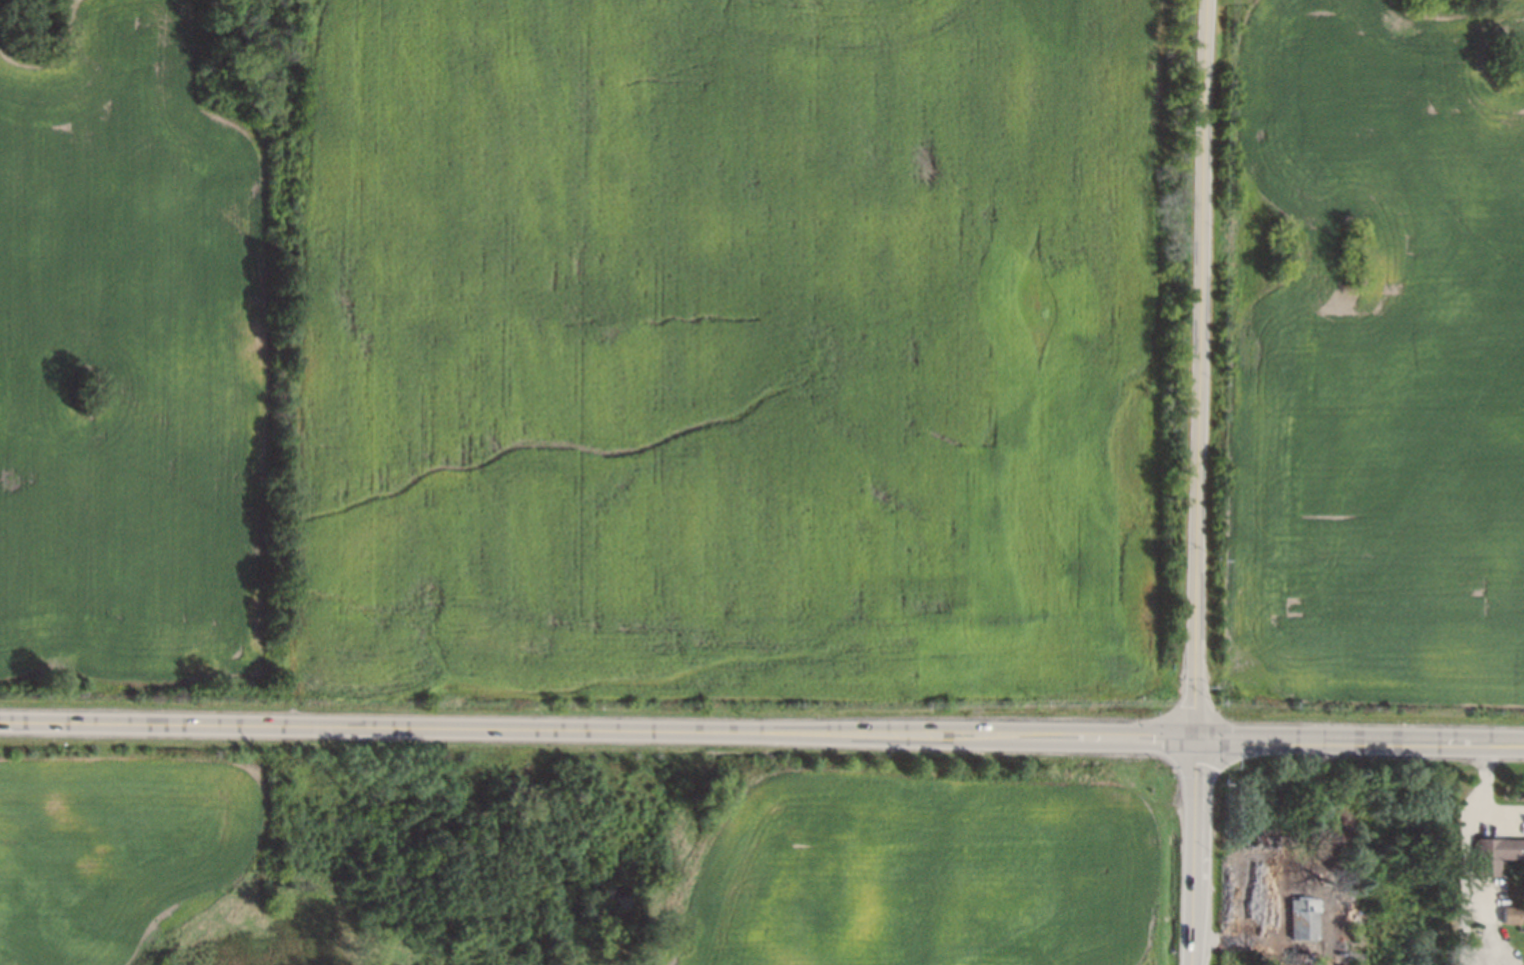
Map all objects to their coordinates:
crop: (1380, 341)
crop: (737, 347)
crop: (124, 366)
road: (1201, 482)
road: (597, 732)
traffic signals: (1196, 740)
road: (1360, 742)
crop: (119, 854)
building: (1497, 854)
crop: (927, 875)
building: (1511, 916)
road: (1249, 942)

